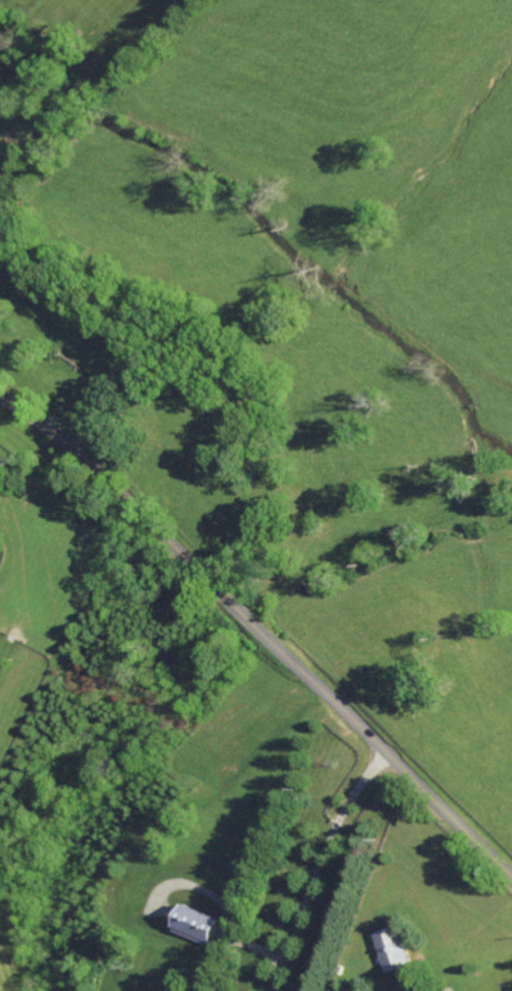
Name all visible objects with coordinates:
road: (260, 632)
road: (318, 867)
building: (194, 924)
building: (392, 949)

